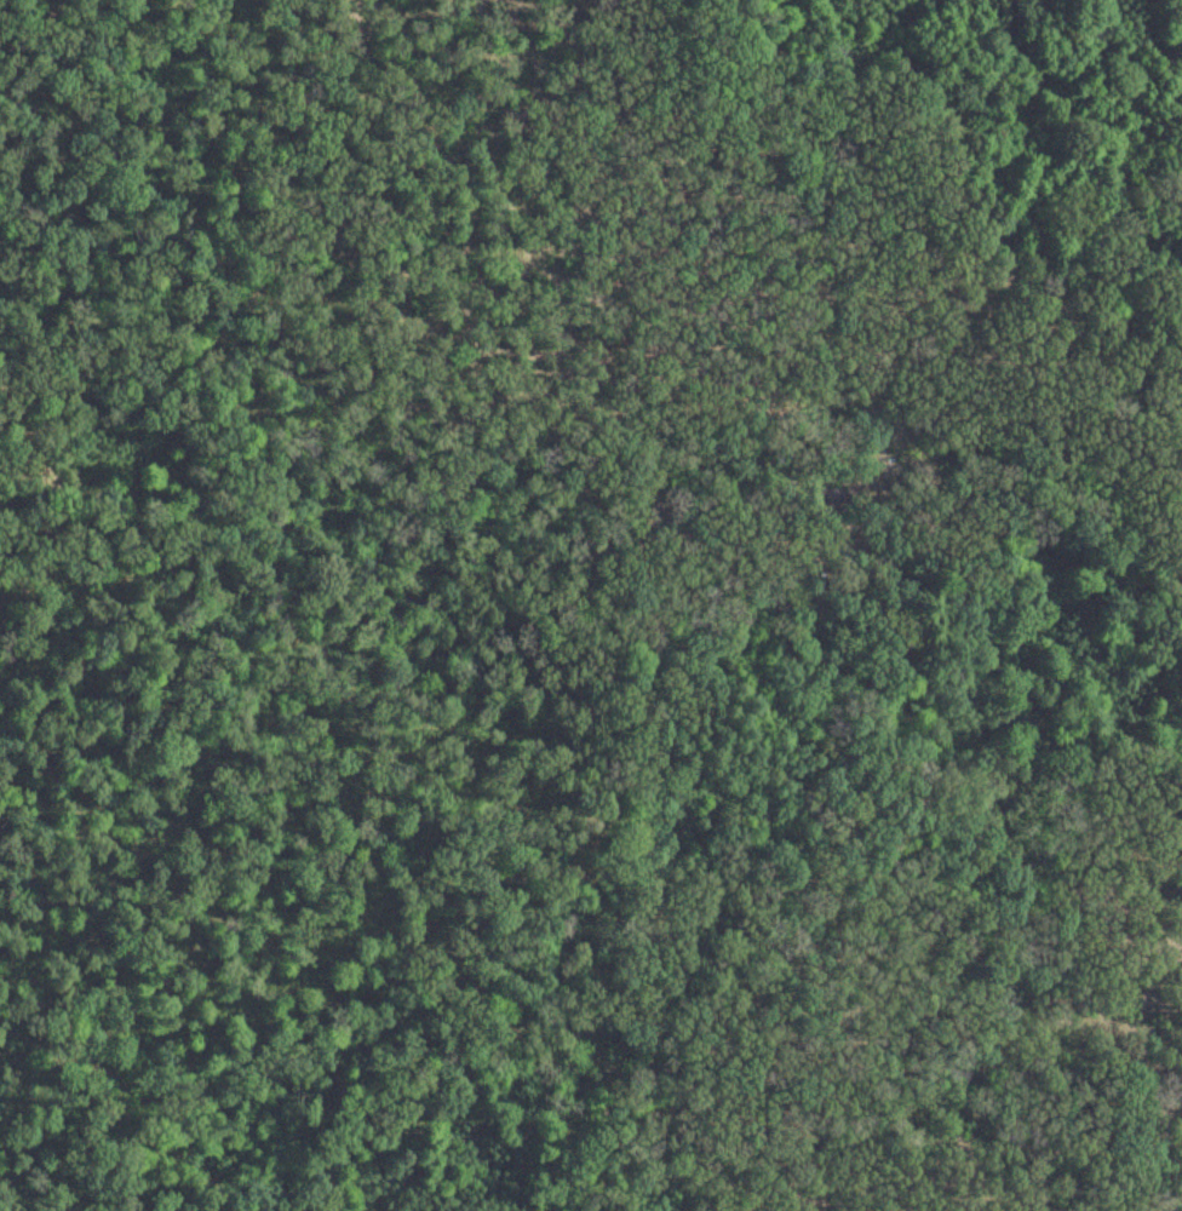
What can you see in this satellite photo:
road: (1015, 831)

